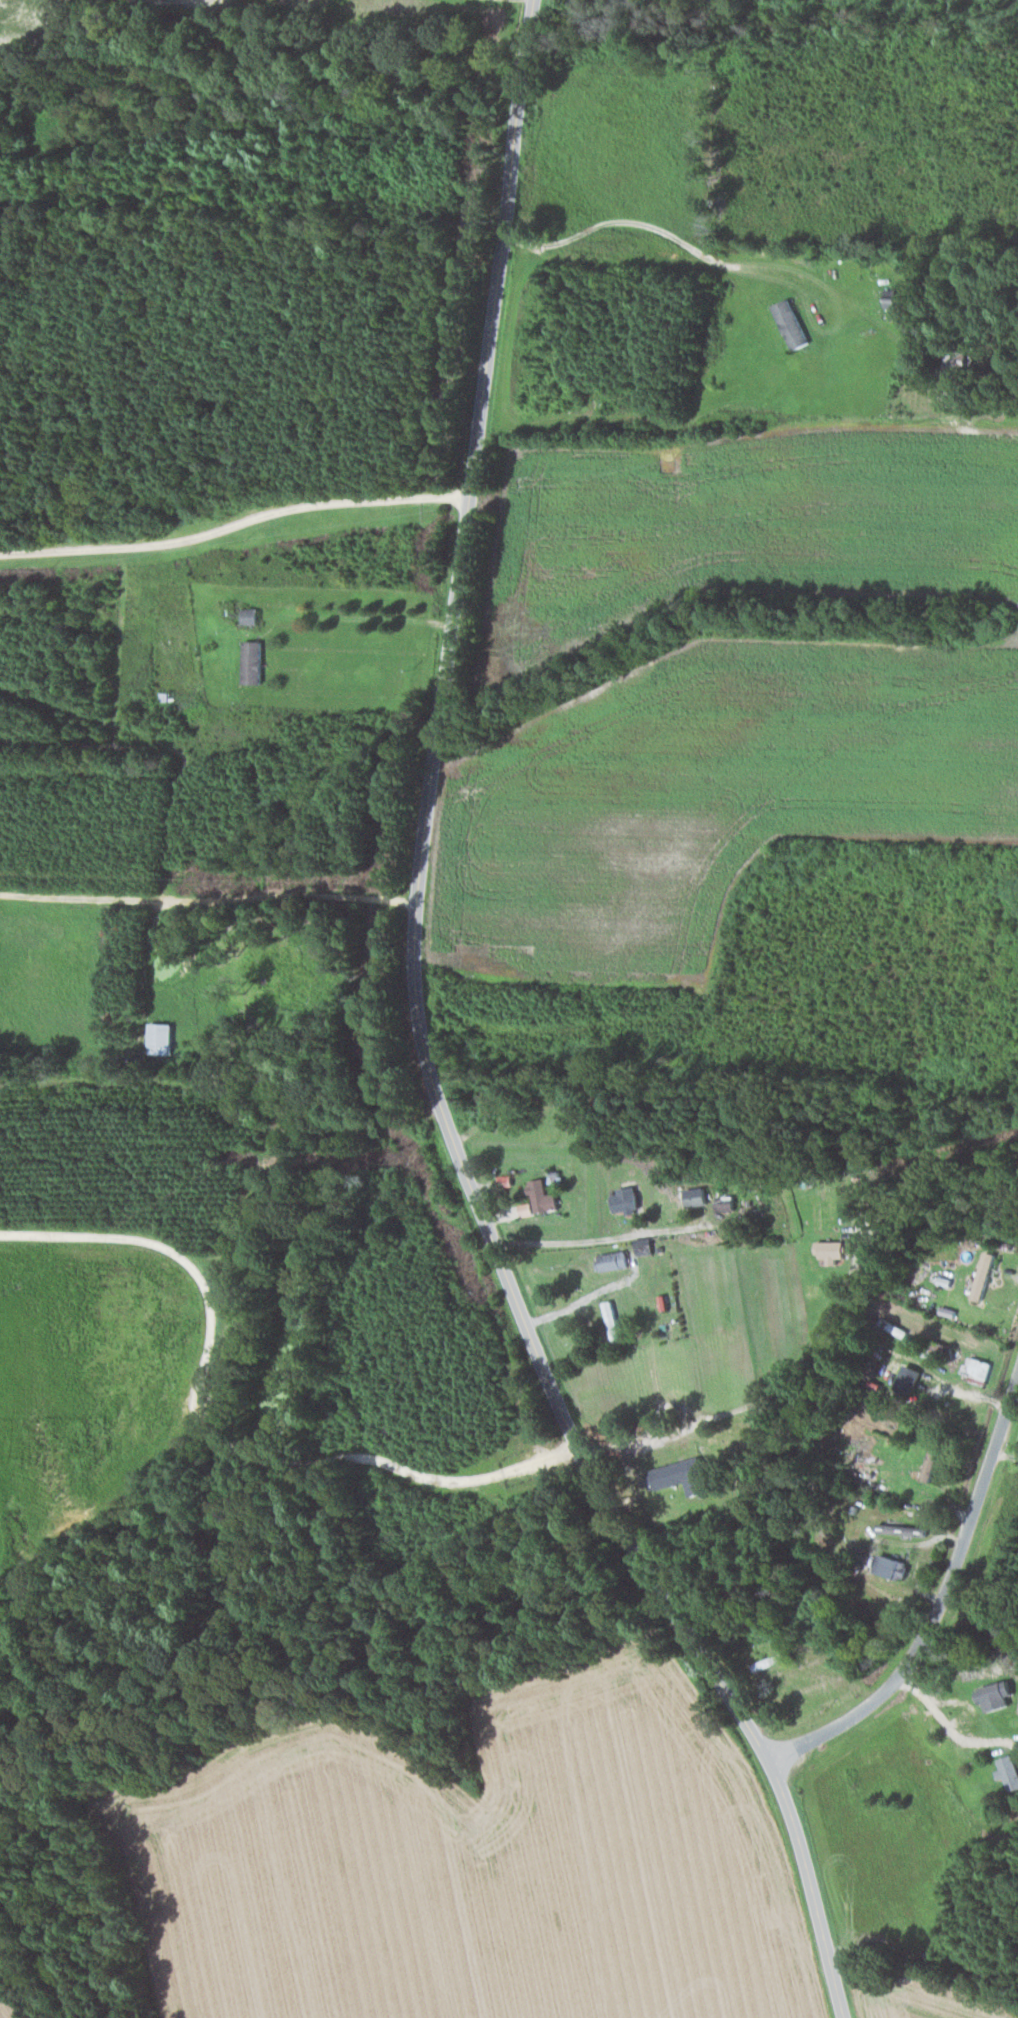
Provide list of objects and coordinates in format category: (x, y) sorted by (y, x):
road: (698, 263)
building: (794, 323)
road: (234, 523)
building: (251, 615)
building: (254, 661)
building: (163, 1037)
road: (424, 1052)
road: (225, 1089)
building: (698, 1195)
building: (545, 1196)
building: (628, 1199)
building: (728, 1203)
road: (672, 1230)
building: (646, 1245)
building: (834, 1249)
building: (615, 1259)
building: (985, 1274)
building: (980, 1367)
building: (912, 1376)
building: (933, 1463)
building: (684, 1475)
building: (895, 1566)
road: (941, 1602)
building: (998, 1695)
building: (1009, 1770)

